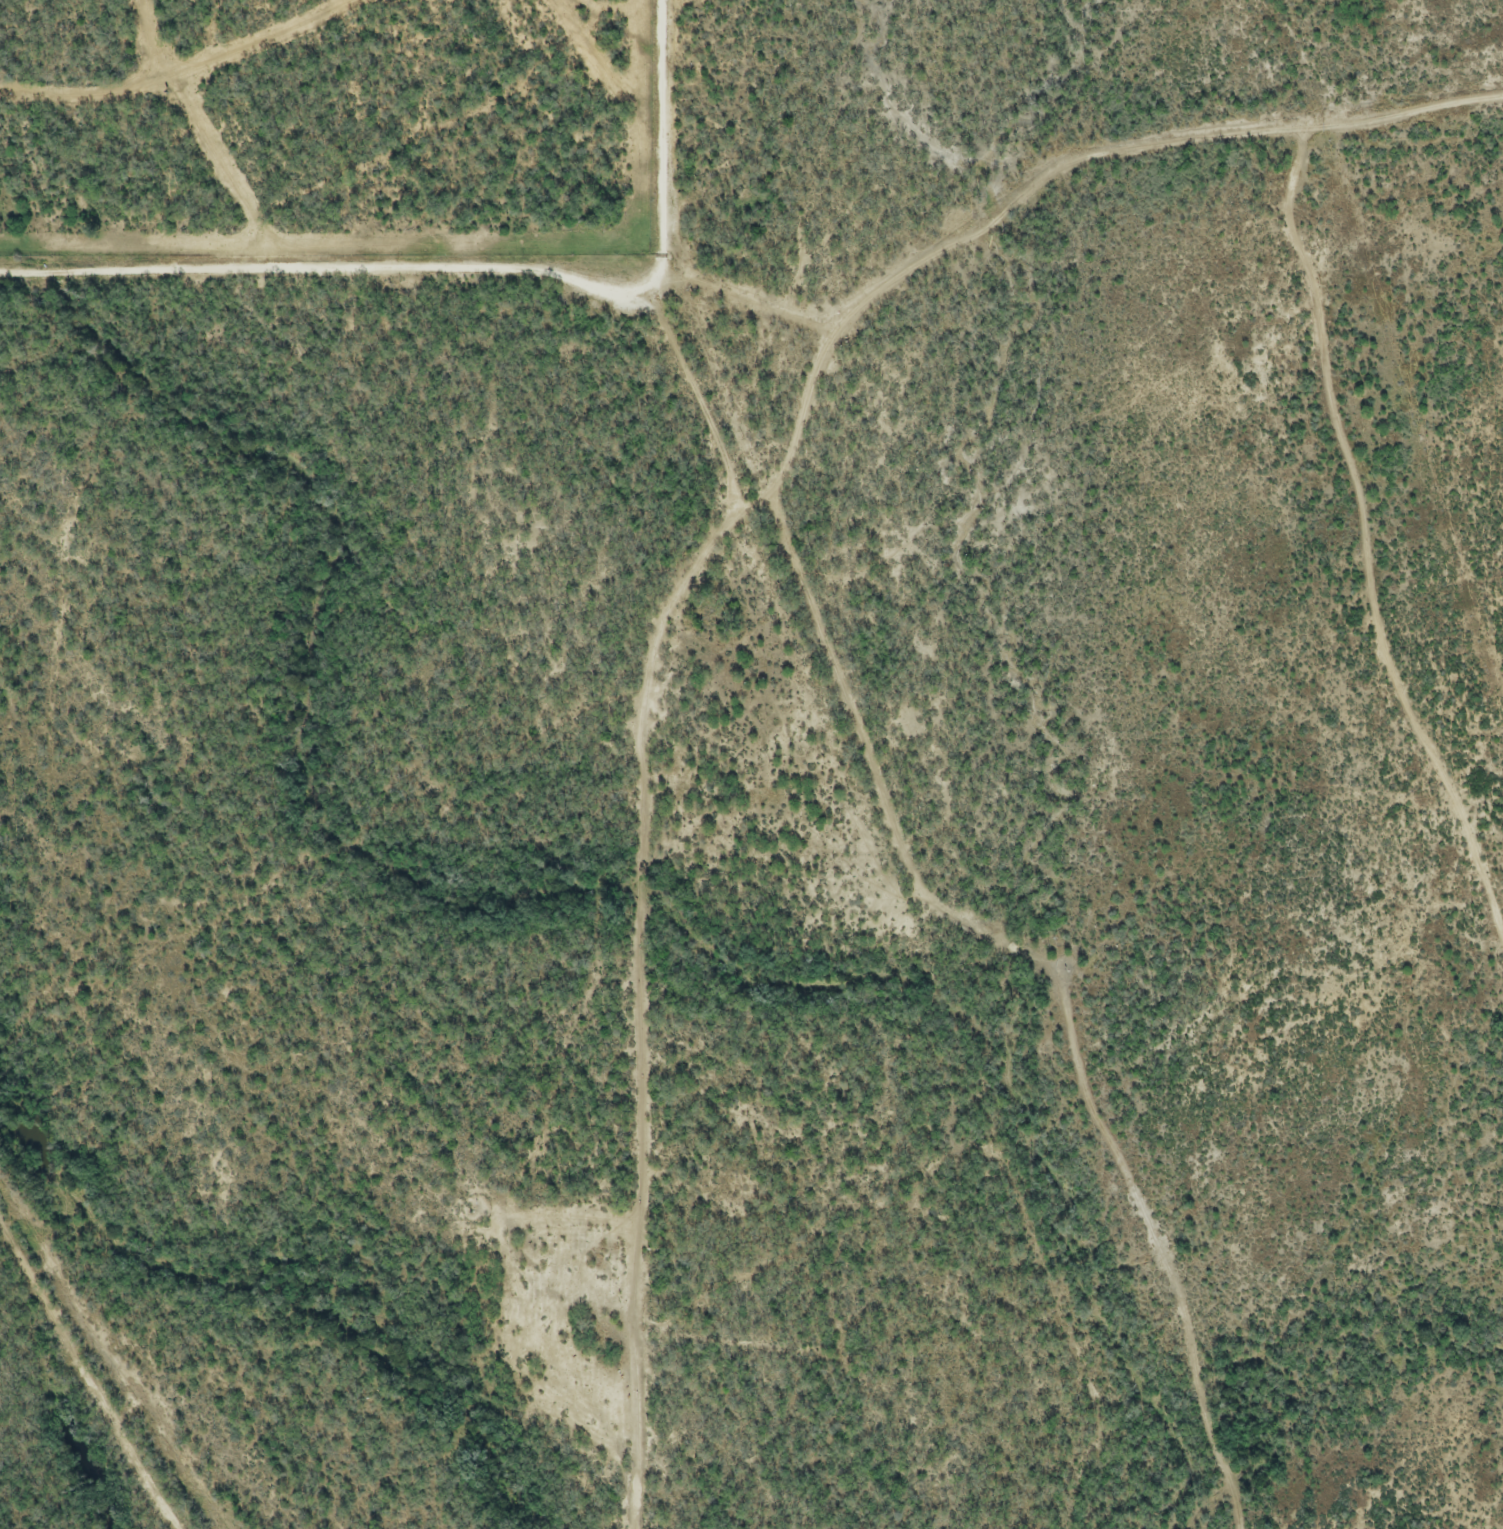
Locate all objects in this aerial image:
road: (474, 271)

